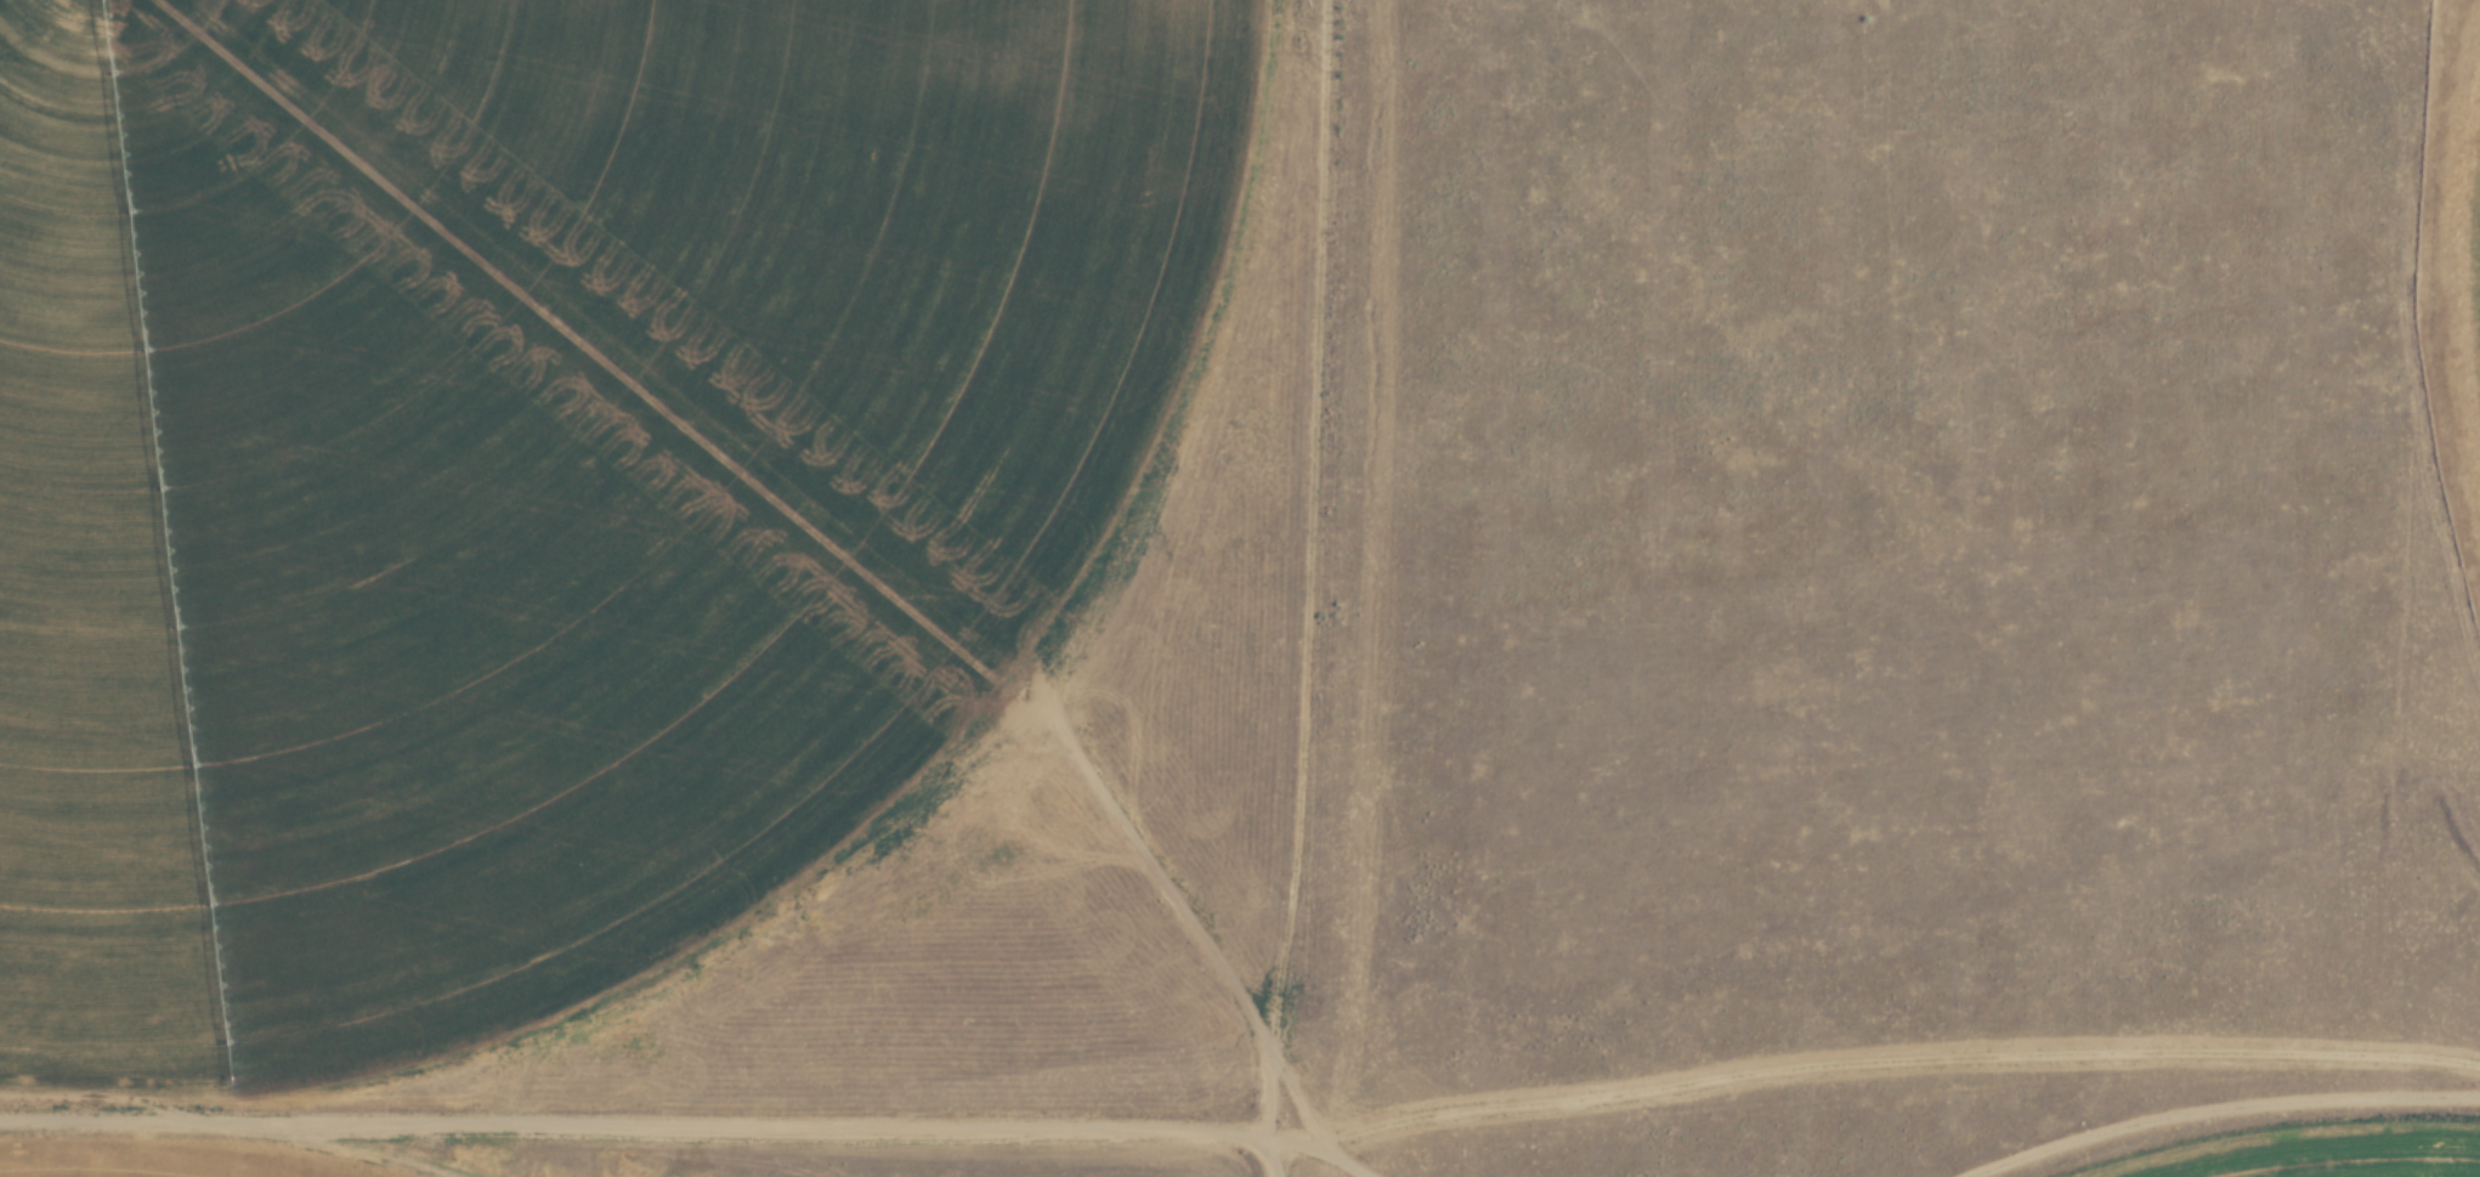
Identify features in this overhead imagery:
crop: (519, 445)

